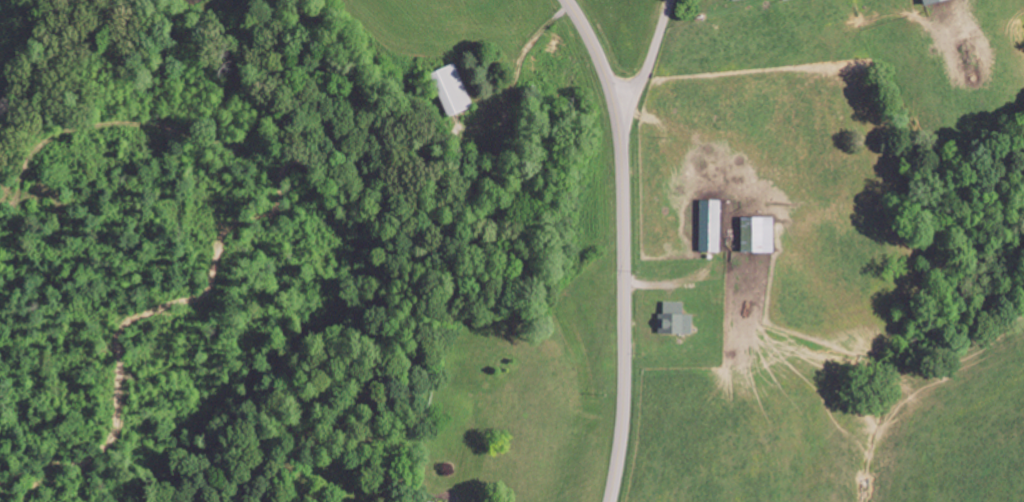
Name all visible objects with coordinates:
building: (934, 1)
road: (647, 65)
building: (713, 225)
building: (759, 233)
road: (623, 245)
building: (678, 318)

